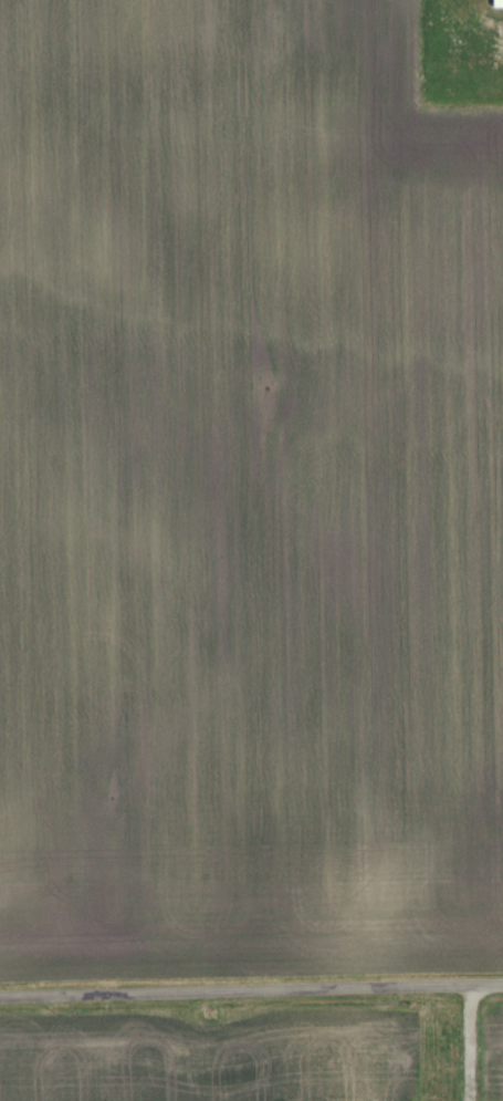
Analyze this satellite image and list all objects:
crop: (247, 495)
road: (251, 997)
crop: (493, 1055)
crop: (210, 1058)

